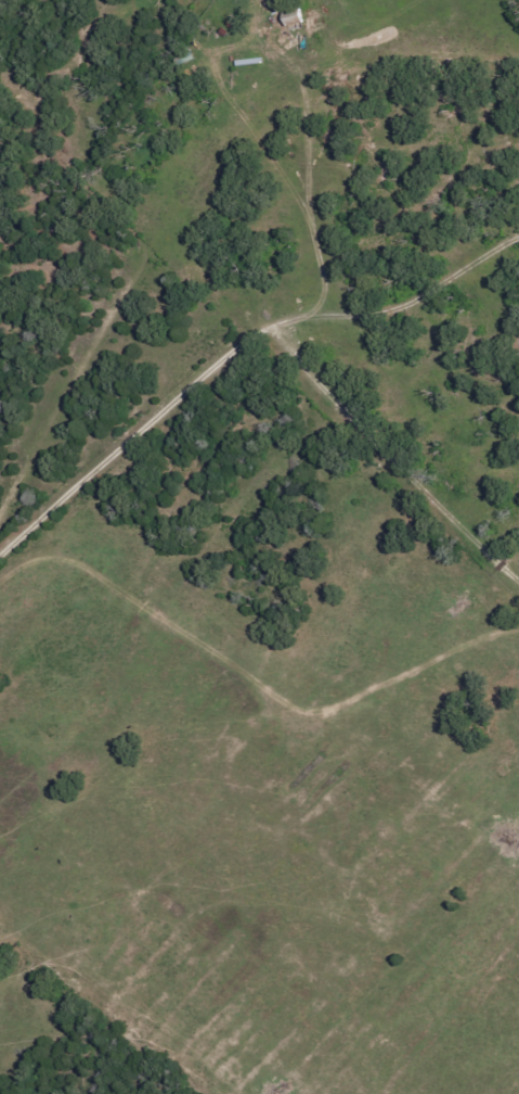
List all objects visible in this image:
road: (65, 225)
road: (234, 344)
road: (391, 456)
road: (96, 917)
road: (304, 941)

